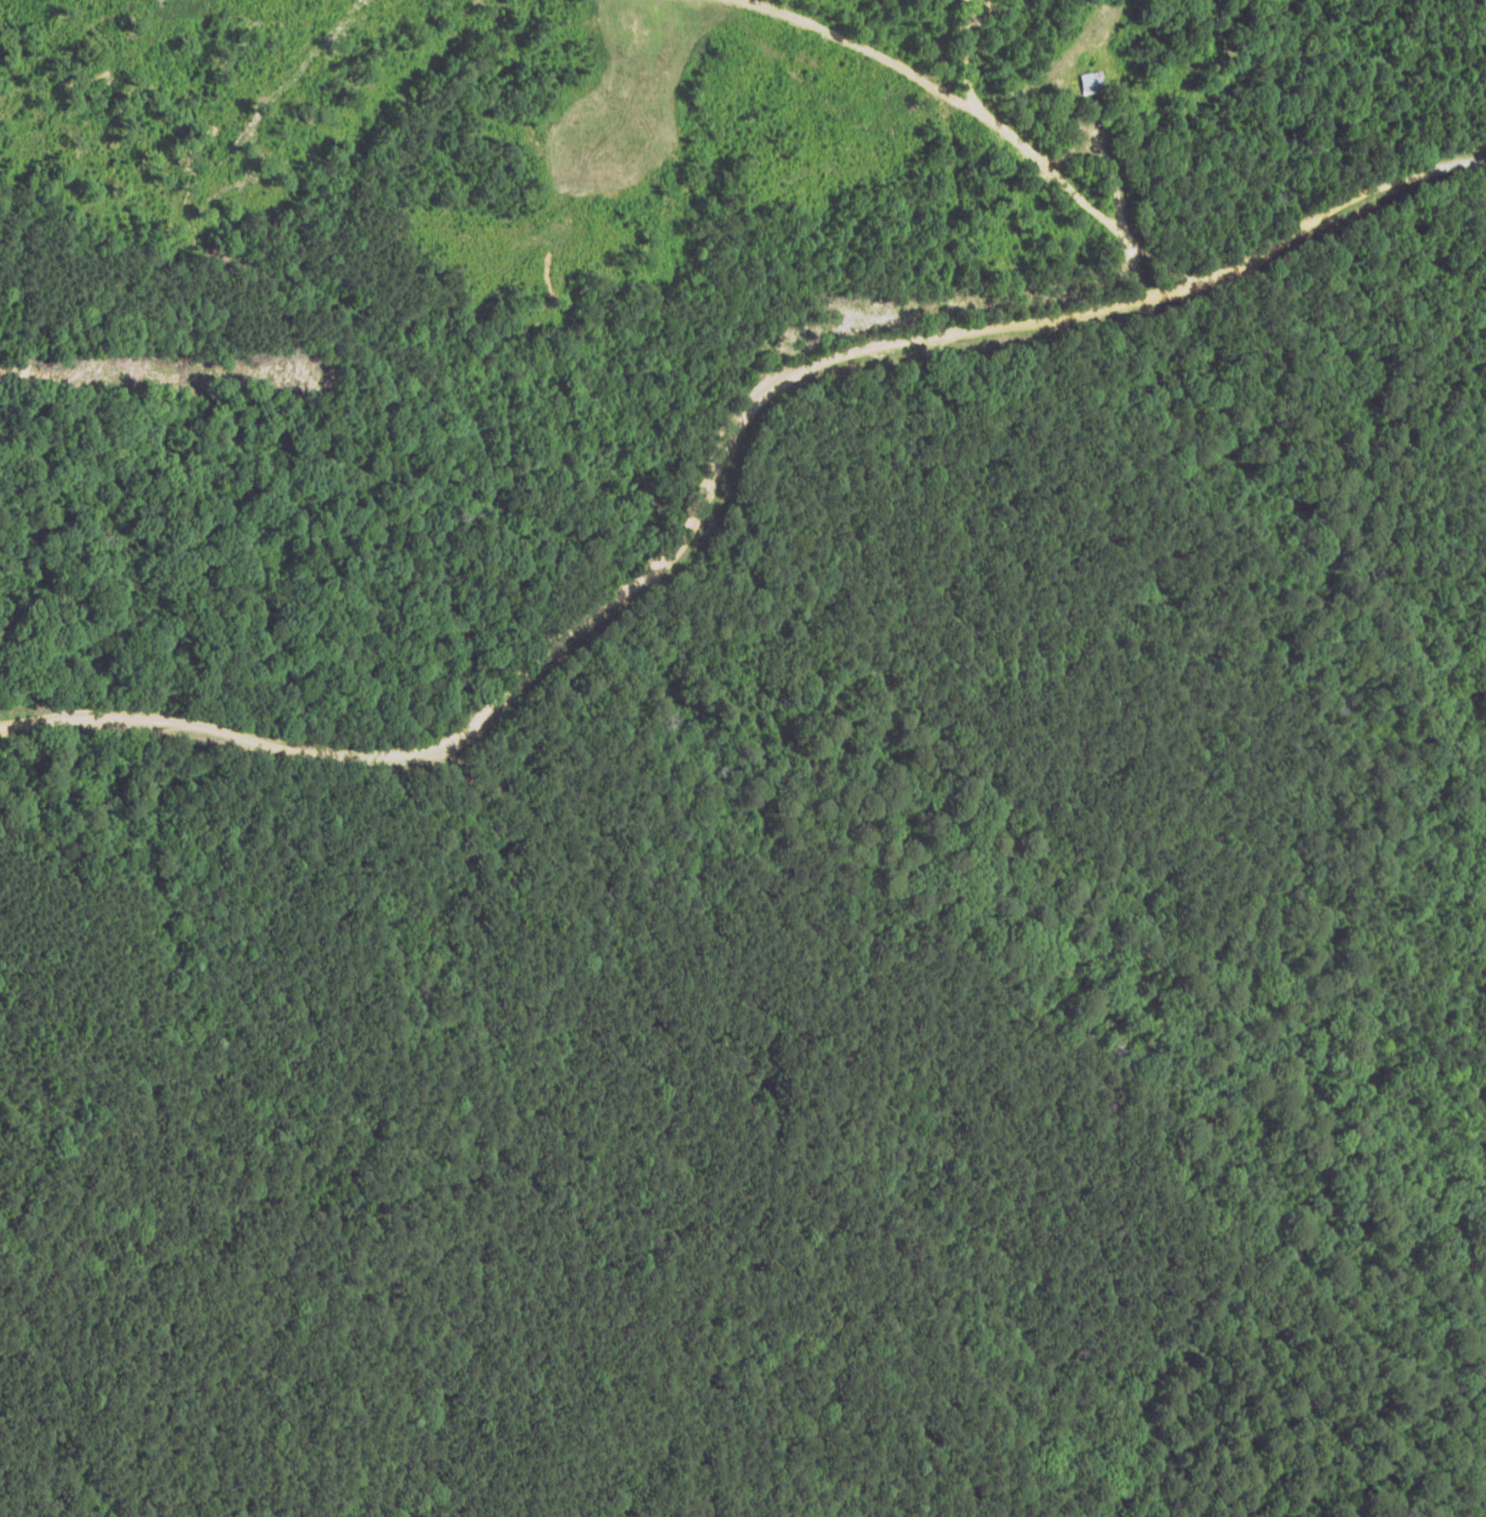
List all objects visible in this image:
road: (948, 111)
road: (748, 497)

